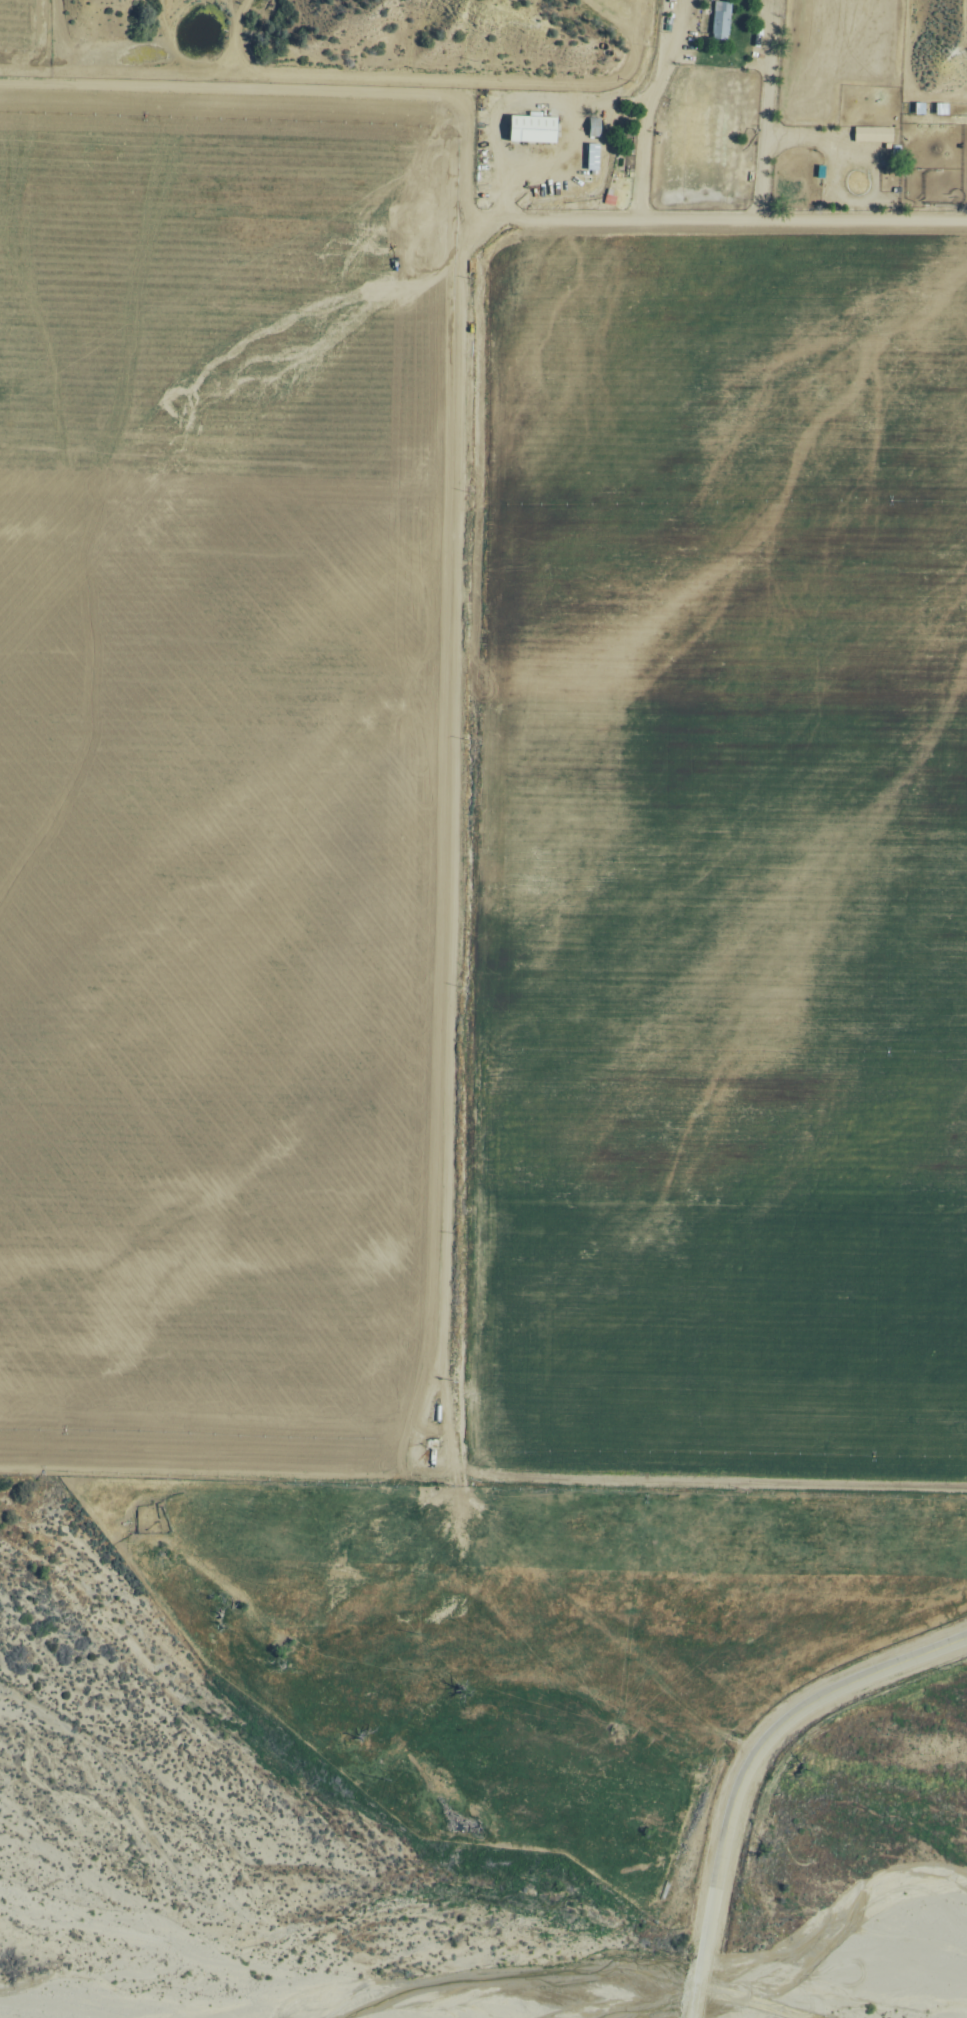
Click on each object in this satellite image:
building: (721, 20)
building: (533, 127)
building: (873, 133)
road: (446, 808)
road: (227, 1478)
road: (752, 1771)
river: (490, 1808)
river: (962, 1999)

